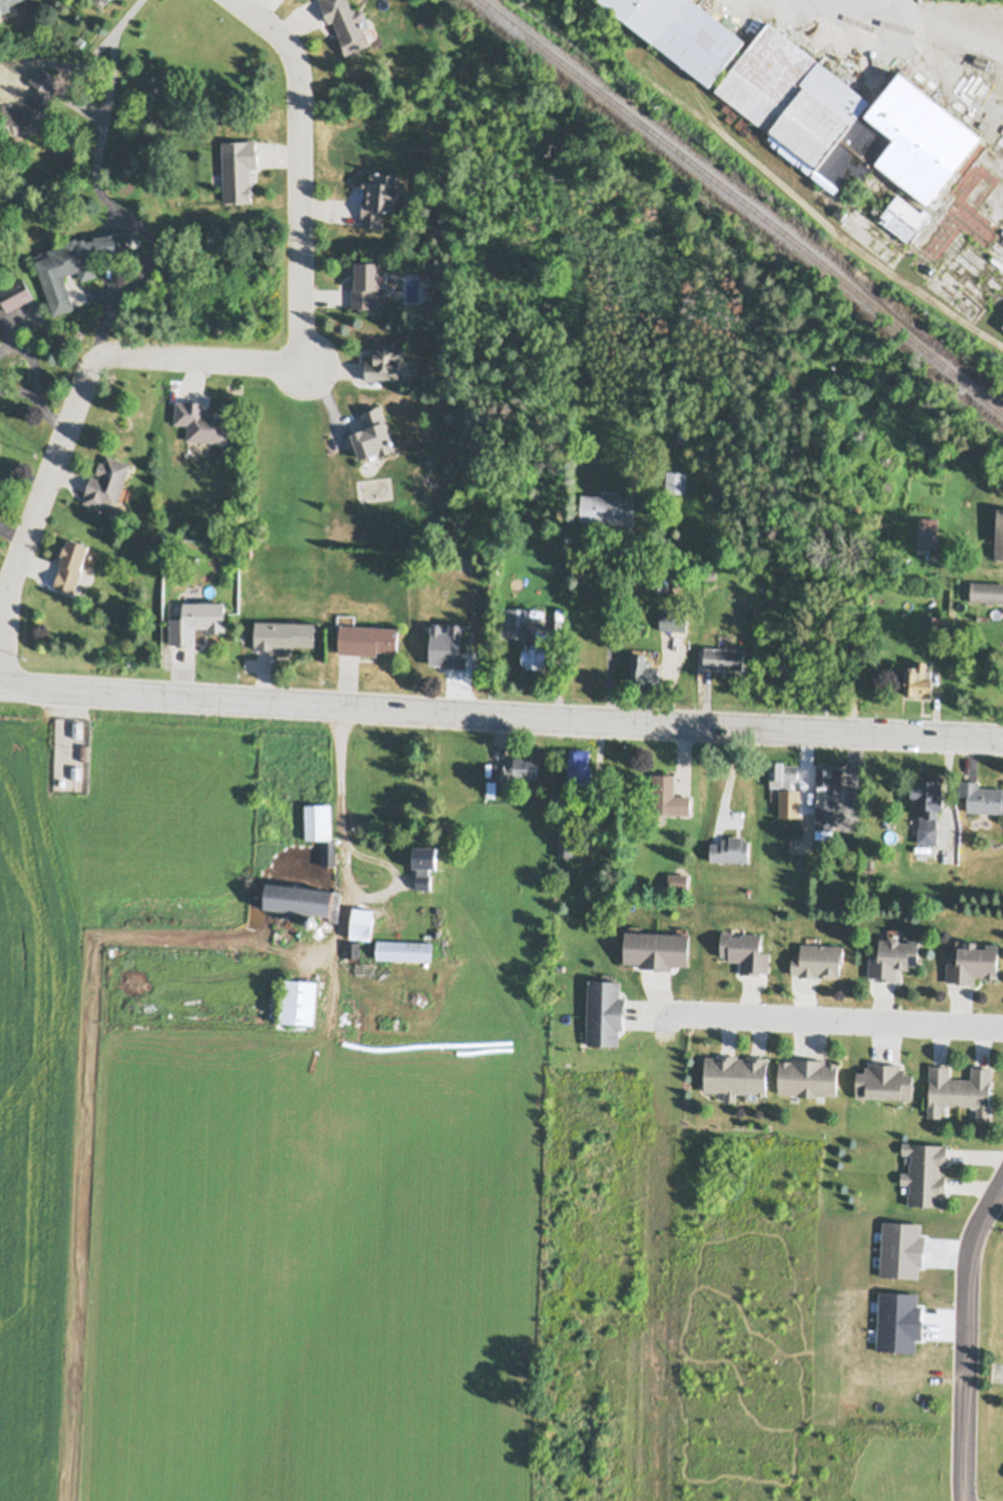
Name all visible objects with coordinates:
building: (108, 1)
building: (4, 4)
building: (347, 21)
road: (951, 21)
building: (685, 31)
building: (80, 39)
building: (983, 60)
building: (27, 108)
building: (844, 116)
building: (238, 167)
road: (101, 192)
building: (378, 194)
railway: (739, 210)
building: (838, 212)
building: (902, 216)
building: (76, 261)
building: (930, 269)
building: (367, 283)
building: (15, 292)
building: (429, 308)
building: (1002, 323)
road: (7, 333)
building: (384, 358)
road: (31, 360)
road: (216, 360)
building: (444, 382)
road: (34, 400)
building: (201, 420)
building: (372, 433)
building: (681, 435)
building: (675, 480)
building: (107, 481)
building: (366, 488)
building: (607, 507)
building: (999, 533)
road: (12, 534)
building: (926, 538)
building: (71, 563)
building: (709, 574)
building: (986, 591)
building: (672, 618)
building: (197, 619)
building: (516, 621)
building: (936, 622)
road: (603, 628)
building: (283, 633)
building: (367, 638)
building: (723, 656)
building: (456, 657)
building: (534, 658)
building: (643, 670)
building: (918, 678)
road: (283, 701)
building: (77, 727)
road: (784, 727)
power substation: (71, 753)
building: (525, 766)
building: (580, 767)
building: (502, 769)
building: (76, 771)
building: (782, 772)
building: (830, 776)
building: (668, 795)
building: (981, 796)
building: (800, 797)
building: (929, 806)
building: (824, 817)
building: (318, 820)
building: (567, 841)
road: (352, 848)
building: (730, 849)
building: (328, 851)
building: (424, 863)
building: (677, 880)
building: (927, 896)
building: (303, 898)
building: (312, 921)
building: (361, 922)
building: (278, 934)
building: (352, 948)
building: (656, 948)
building: (404, 949)
building: (745, 950)
building: (893, 956)
building: (818, 959)
building: (972, 961)
building: (297, 1000)
building: (604, 1011)
road: (835, 1021)
building: (735, 1074)
building: (807, 1076)
building: (884, 1081)
building: (959, 1089)
building: (925, 1172)
crop: (229, 1198)
road: (969, 1341)

